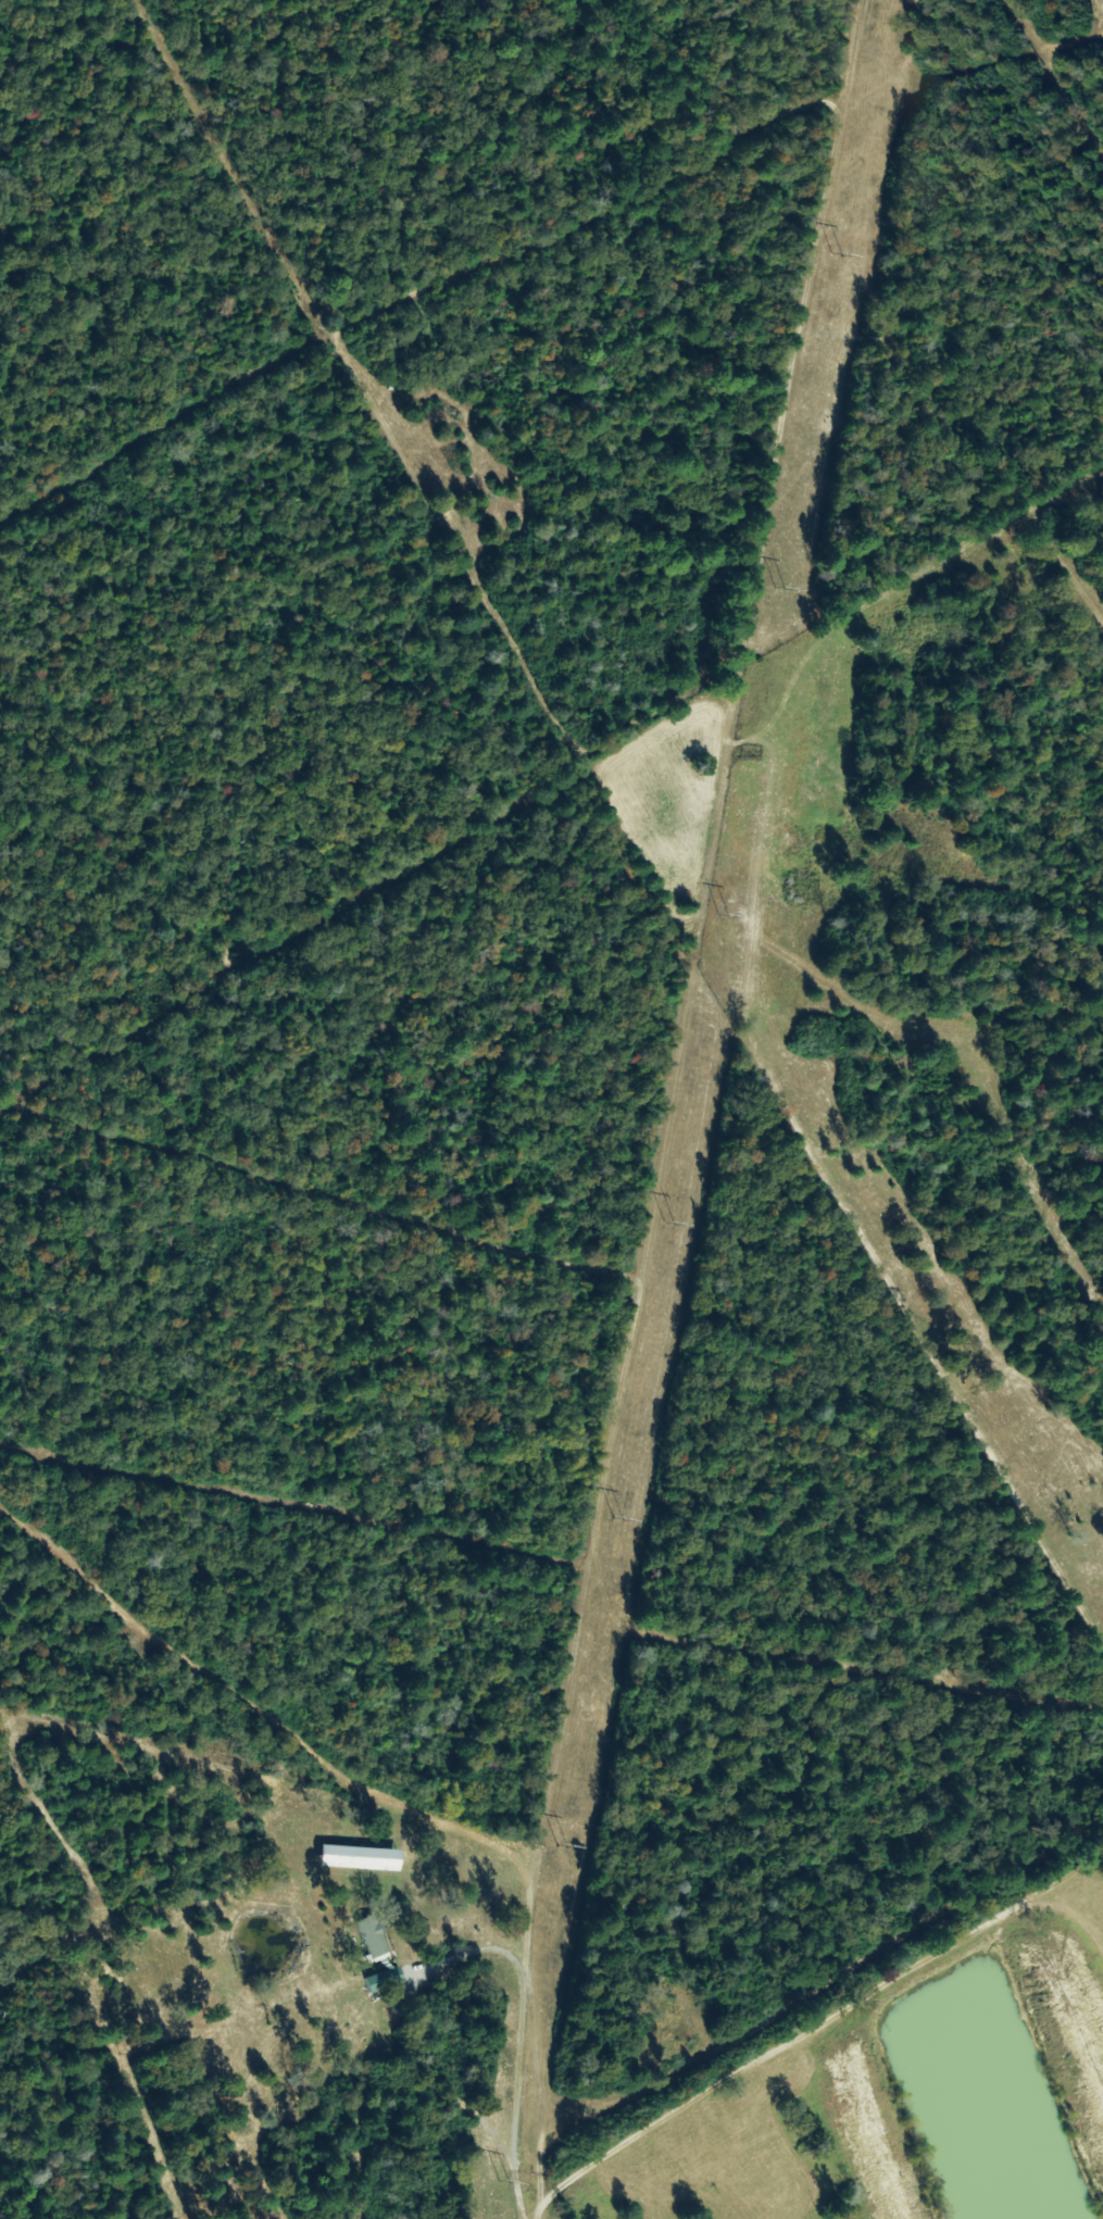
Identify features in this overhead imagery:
power tower: (833, 256)
power tower: (776, 591)
power tower: (724, 915)
power tower: (669, 1227)
power tower: (615, 1524)
power tower: (562, 1848)
building: (359, 1858)
building: (372, 1938)
building: (384, 1980)
power tower: (504, 2185)

